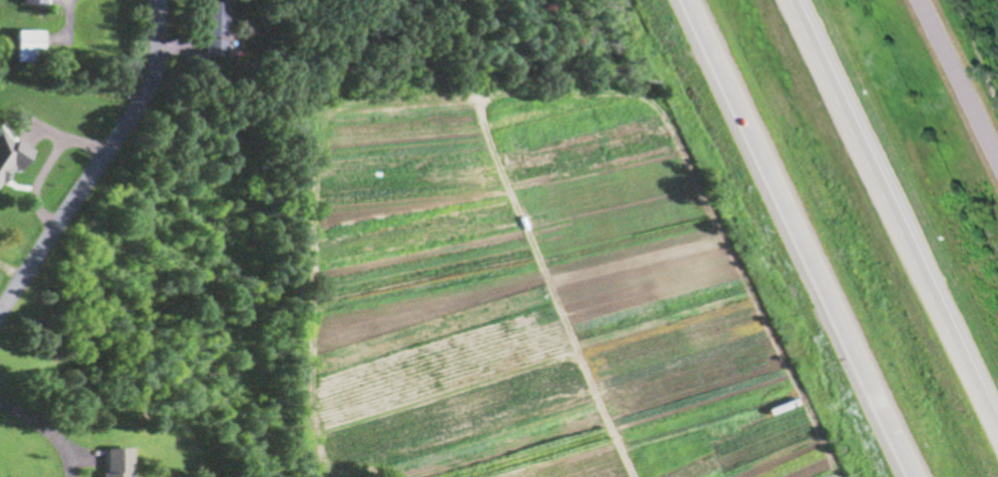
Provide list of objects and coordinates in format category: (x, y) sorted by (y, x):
building: (37, 2)
building: (217, 27)
building: (30, 42)
road: (959, 81)
crop: (986, 89)
road: (99, 161)
road: (895, 215)
road: (798, 238)
building: (118, 462)

